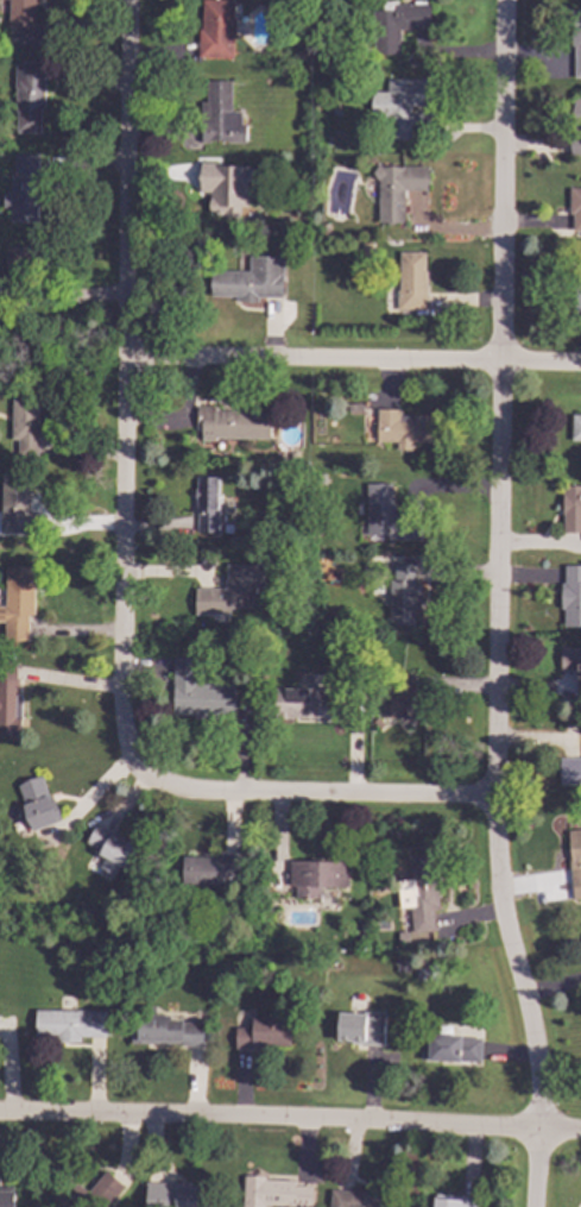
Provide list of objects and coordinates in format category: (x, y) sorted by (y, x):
building: (20, 13)
building: (397, 25)
building: (216, 27)
building: (575, 39)
building: (32, 83)
building: (398, 100)
building: (220, 113)
building: (575, 124)
building: (223, 184)
building: (399, 188)
building: (24, 189)
building: (574, 206)
building: (20, 262)
building: (248, 279)
building: (412, 282)
building: (7, 289)
building: (576, 295)
road: (359, 359)
road: (137, 391)
building: (229, 422)
building: (25, 426)
building: (403, 428)
building: (575, 428)
building: (13, 494)
building: (207, 504)
building: (379, 508)
building: (570, 508)
road: (505, 566)
building: (235, 580)
building: (404, 591)
building: (570, 597)
building: (17, 599)
building: (569, 660)
building: (194, 686)
building: (8, 702)
building: (308, 702)
building: (570, 771)
road: (316, 788)
building: (36, 803)
building: (110, 849)
building: (574, 856)
building: (217, 870)
building: (320, 874)
building: (418, 894)
building: (71, 1025)
building: (163, 1027)
building: (360, 1027)
building: (261, 1032)
building: (450, 1048)
road: (290, 1125)
road: (536, 1169)
building: (97, 1190)
building: (272, 1192)
building: (177, 1195)
building: (7, 1199)
building: (354, 1199)
building: (459, 1201)

